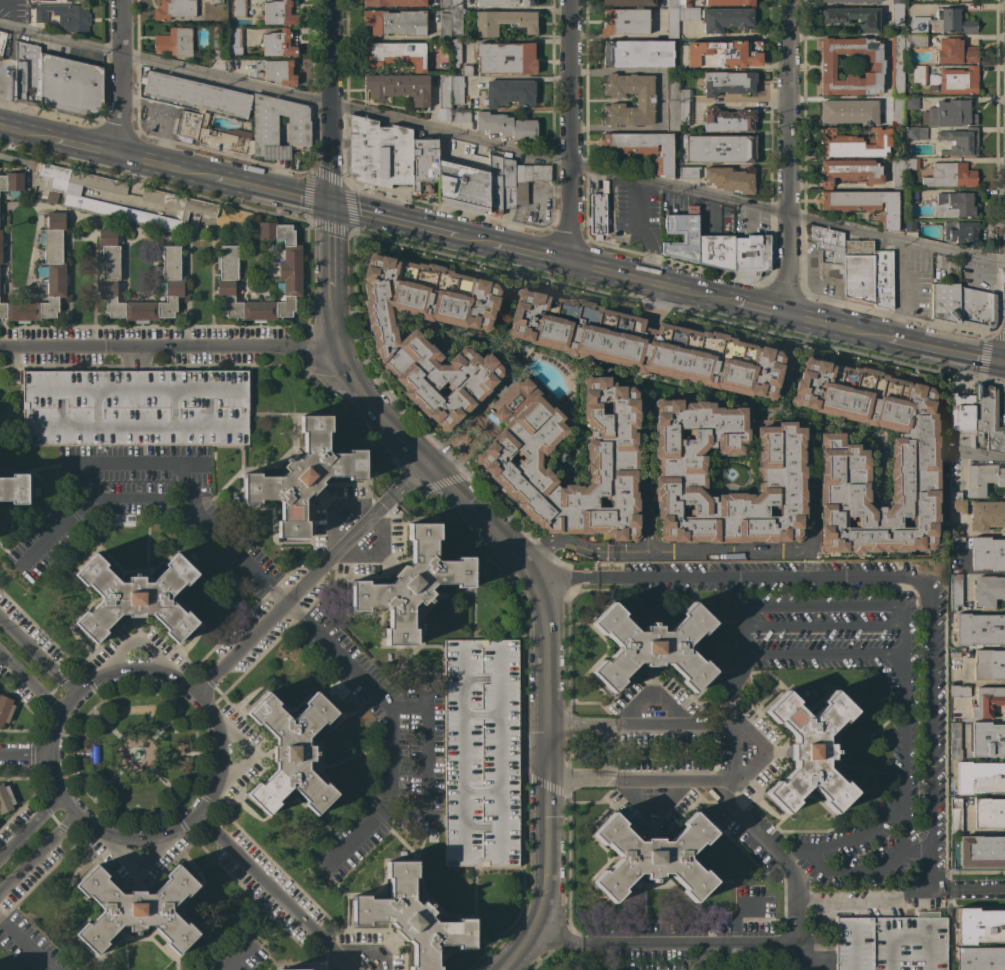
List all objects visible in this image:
building: (907, 0)
building: (75, 1)
building: (850, 1)
building: (216, 2)
building: (495, 2)
building: (528, 2)
building: (628, 2)
building: (728, 2)
building: (897, 2)
building: (394, 3)
building: (444, 3)
building: (673, 3)
building: (684, 3)
building: (455, 4)
building: (240, 8)
building: (175, 10)
building: (278, 13)
building: (689, 13)
building: (897, 15)
building: (64, 16)
building: (853, 17)
building: (726, 19)
building: (455, 20)
building: (624, 21)
building: (395, 22)
building: (502, 22)
building: (672, 22)
building: (943, 22)
building: (444, 26)
building: (235, 37)
building: (173, 40)
building: (2, 41)
building: (915, 41)
building: (219, 42)
building: (277, 44)
building: (955, 51)
building: (455, 53)
building: (395, 54)
building: (637, 54)
building: (723, 54)
building: (505, 58)
building: (873, 64)
building: (897, 65)
building: (466, 70)
building: (277, 72)
building: (27, 73)
building: (919, 74)
road: (120, 77)
building: (956, 80)
building: (728, 83)
building: (70, 85)
building: (398, 87)
building: (456, 89)
building: (509, 93)
building: (685, 95)
building: (444, 98)
building: (645, 100)
building: (672, 100)
road: (742, 102)
road: (329, 103)
building: (911, 103)
road: (2, 111)
building: (202, 111)
building: (897, 111)
building: (850, 112)
building: (949, 113)
building: (685, 114)
building: (460, 115)
building: (727, 120)
building: (506, 126)
building: (265, 130)
road: (570, 131)
road: (27, 132)
building: (916, 133)
building: (959, 141)
building: (854, 143)
road: (502, 145)
road: (87, 147)
building: (642, 148)
building: (720, 149)
building: (380, 153)
road: (788, 158)
building: (912, 164)
building: (424, 165)
road: (165, 167)
building: (849, 171)
building: (687, 172)
building: (898, 174)
building: (950, 175)
building: (729, 179)
building: (528, 180)
building: (12, 183)
building: (501, 184)
building: (463, 187)
road: (269, 193)
building: (912, 196)
building: (78, 199)
building: (179, 203)
building: (863, 204)
building: (956, 204)
traffic signals: (328, 207)
road: (532, 209)
building: (598, 214)
road: (609, 219)
road: (392, 222)
building: (910, 226)
road: (642, 232)
building: (961, 232)
building: (682, 235)
road: (473, 241)
building: (827, 244)
building: (0, 247)
building: (716, 251)
road: (531, 254)
building: (751, 254)
building: (859, 270)
building: (230, 273)
building: (44, 276)
building: (882, 276)
building: (110, 277)
road: (652, 284)
building: (1, 288)
building: (946, 302)
building: (977, 308)
road: (762, 310)
road: (838, 327)
building: (399, 341)
building: (645, 344)
road: (168, 350)
road: (946, 351)
road: (344, 362)
building: (135, 407)
parking lot: (135, 407)
building: (961, 412)
building: (988, 418)
road: (449, 452)
building: (843, 453)
road: (970, 453)
building: (611, 458)
road: (136, 462)
building: (678, 469)
building: (303, 476)
road: (645, 479)
building: (982, 479)
road: (396, 487)
building: (14, 489)
road: (160, 500)
building: (957, 503)
road: (335, 511)
building: (986, 515)
road: (483, 520)
building: (955, 533)
road: (544, 542)
road: (731, 549)
road: (378, 550)
building: (987, 553)
road: (10, 558)
road: (527, 568)
road: (770, 577)
road: (566, 578)
building: (411, 584)
building: (955, 591)
building: (988, 591)
building: (135, 598)
road: (283, 604)
road: (821, 605)
building: (979, 629)
road: (133, 641)
building: (651, 647)
road: (807, 652)
building: (957, 653)
road: (36, 656)
building: (989, 664)
road: (29, 680)
road: (730, 688)
building: (959, 690)
road: (651, 693)
road: (902, 698)
building: (987, 701)
building: (5, 709)
road: (544, 721)
road: (719, 724)
road: (584, 725)
road: (391, 727)
building: (986, 739)
building: (956, 741)
road: (930, 744)
road: (243, 747)
road: (531, 750)
building: (809, 751)
building: (291, 753)
road: (424, 753)
building: (481, 753)
building: (94, 754)
road: (23, 756)
building: (980, 777)
road: (579, 782)
road: (617, 782)
road: (670, 782)
building: (5, 799)
road: (651, 808)
building: (989, 813)
building: (955, 816)
road: (26, 822)
road: (130, 844)
road: (914, 851)
building: (981, 851)
road: (35, 852)
building: (652, 857)
road: (780, 857)
road: (136, 862)
road: (877, 871)
road: (976, 889)
road: (275, 893)
road: (541, 901)
road: (872, 902)
road: (345, 906)
building: (136, 909)
road: (734, 916)
building: (411, 917)
building: (979, 926)
road: (554, 939)
road: (686, 942)
building: (891, 942)
parking lot: (891, 942)
road: (25, 943)
road: (367, 951)
road: (515, 953)
road: (240, 956)
road: (700, 956)
building: (980, 958)
road: (333, 960)
road: (289, 965)
building: (294, 969)

